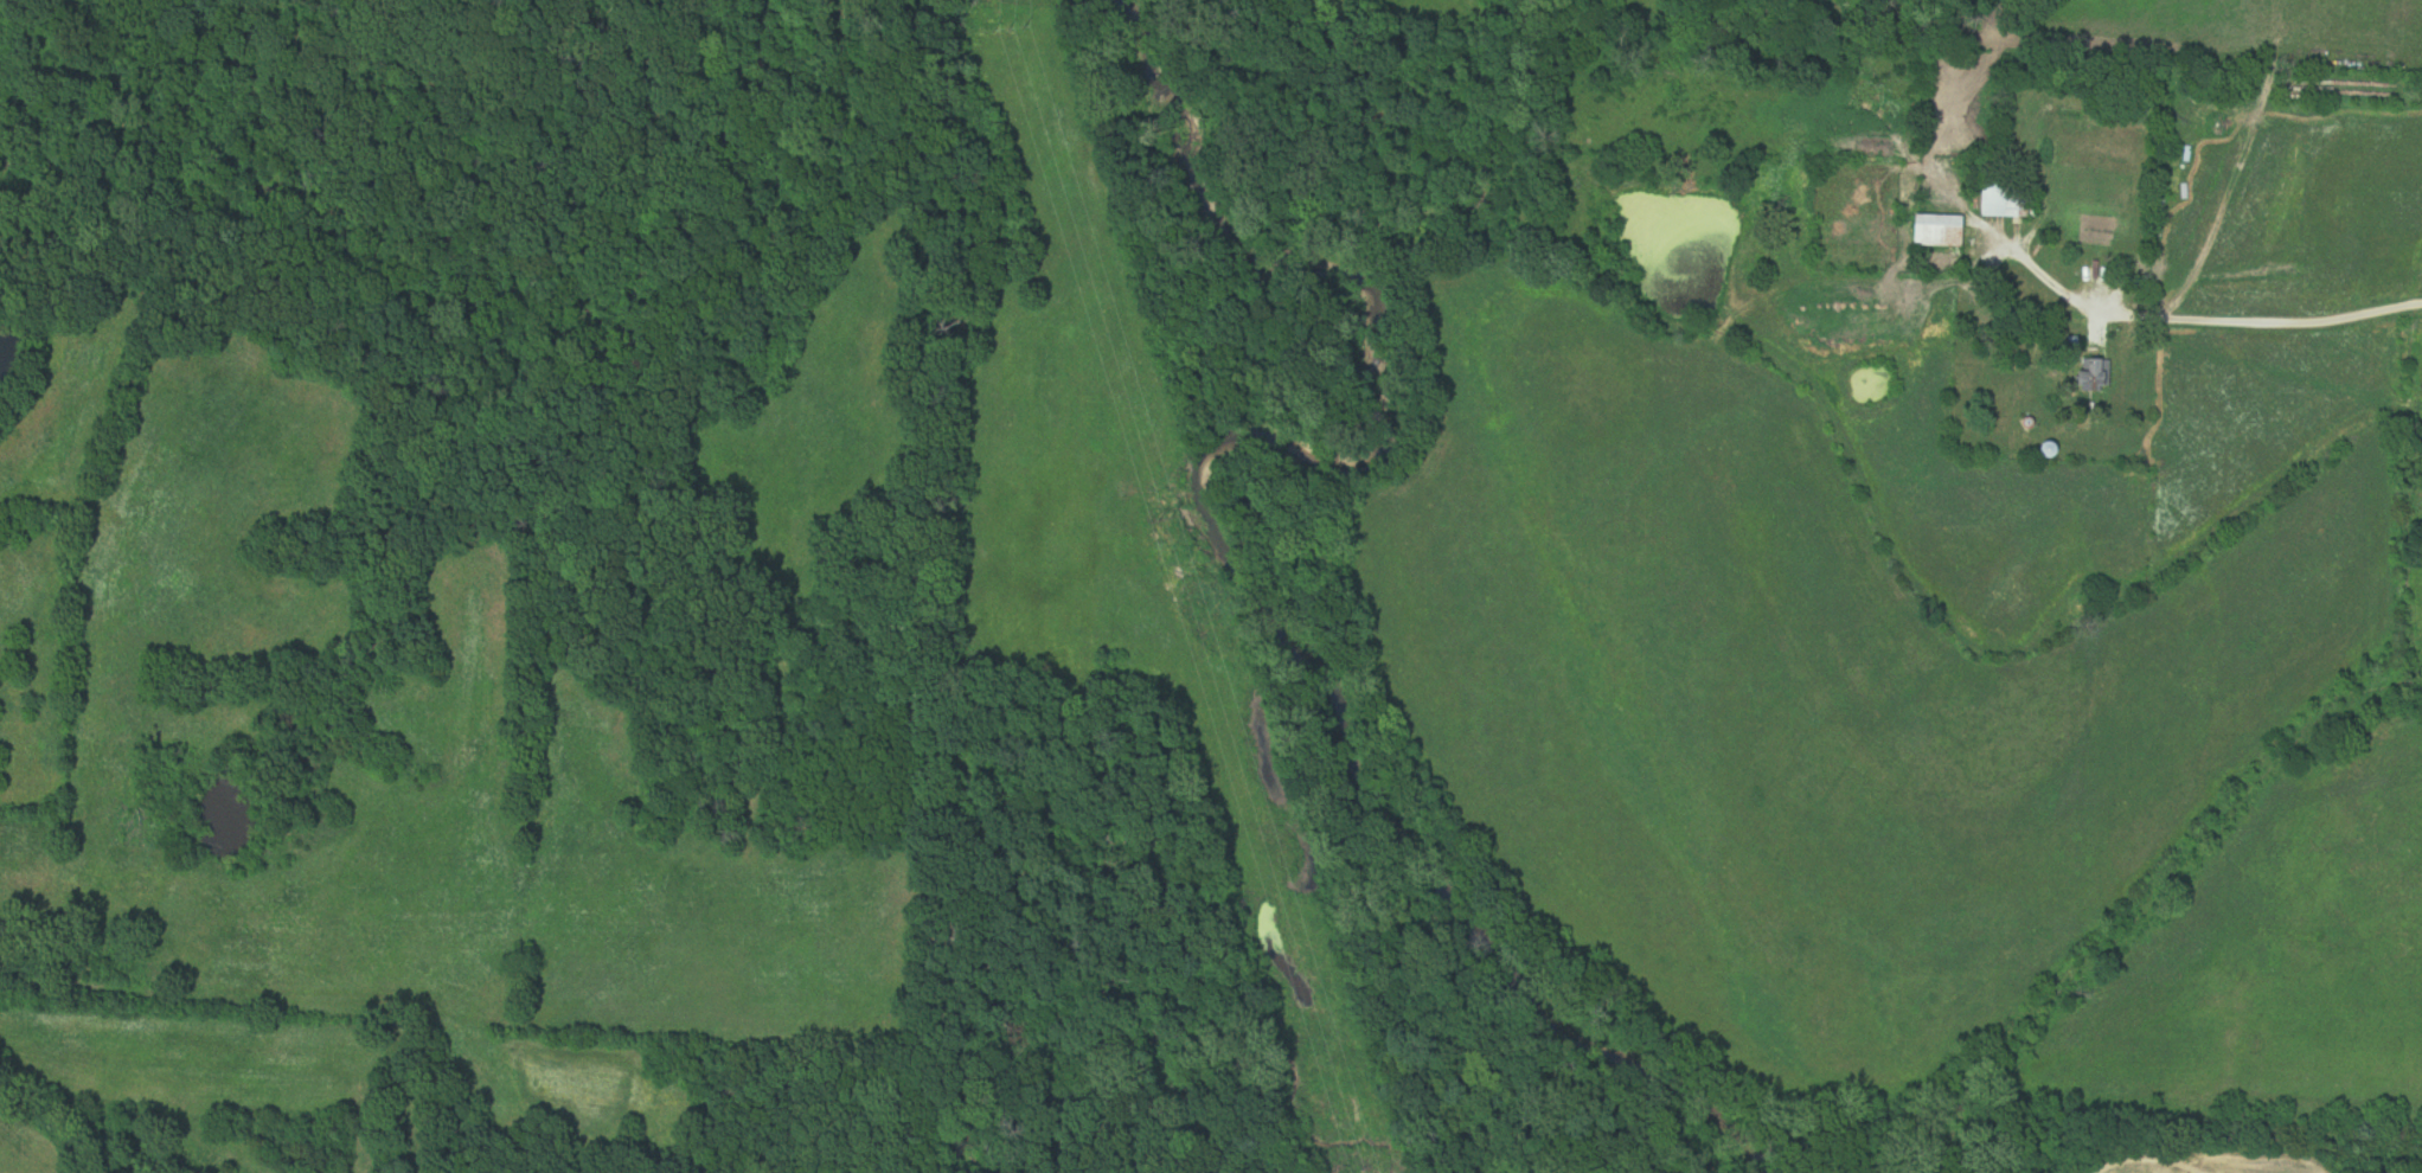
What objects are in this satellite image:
building: (2013, 201)
building: (1933, 232)
road: (2197, 327)
building: (2085, 373)
crop: (2204, 1168)

